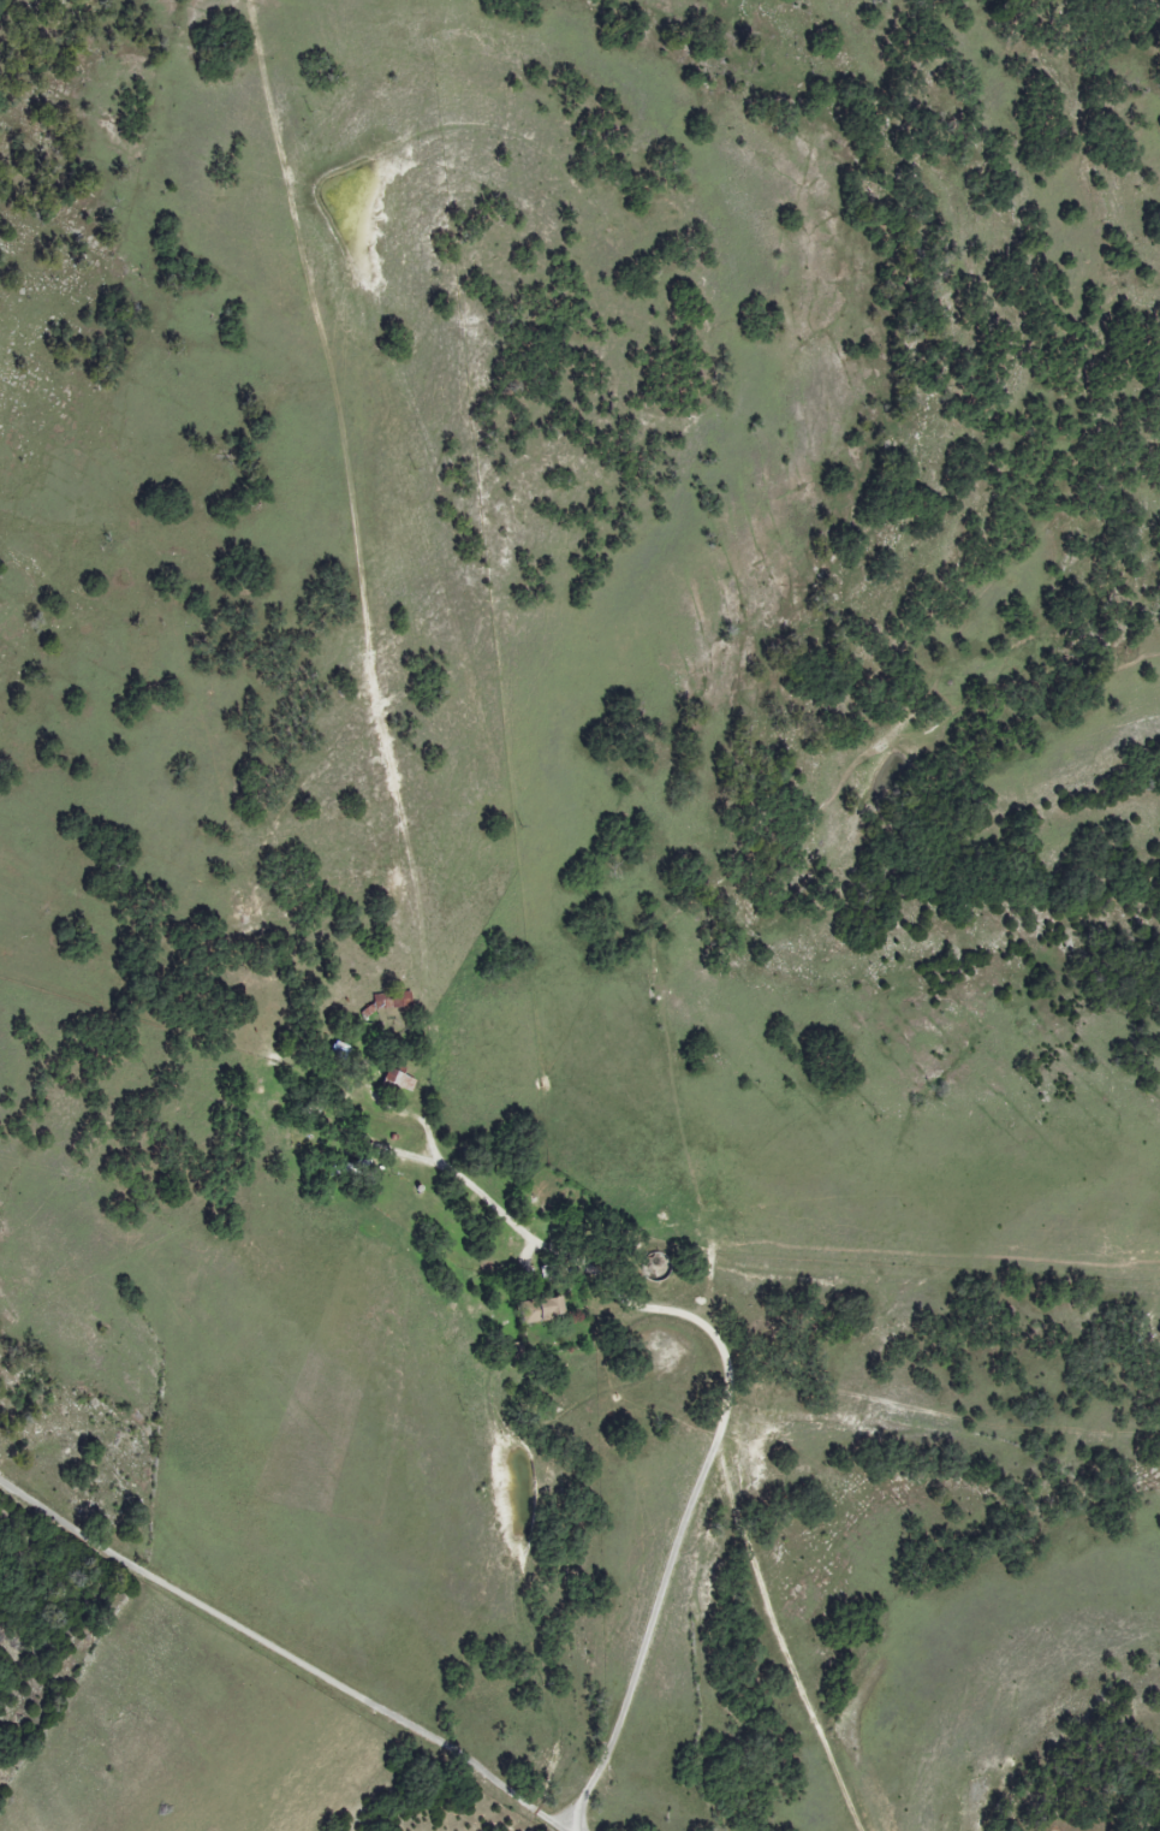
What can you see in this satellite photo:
building: (392, 1001)
building: (542, 1308)
road: (674, 1547)
road: (291, 1649)

